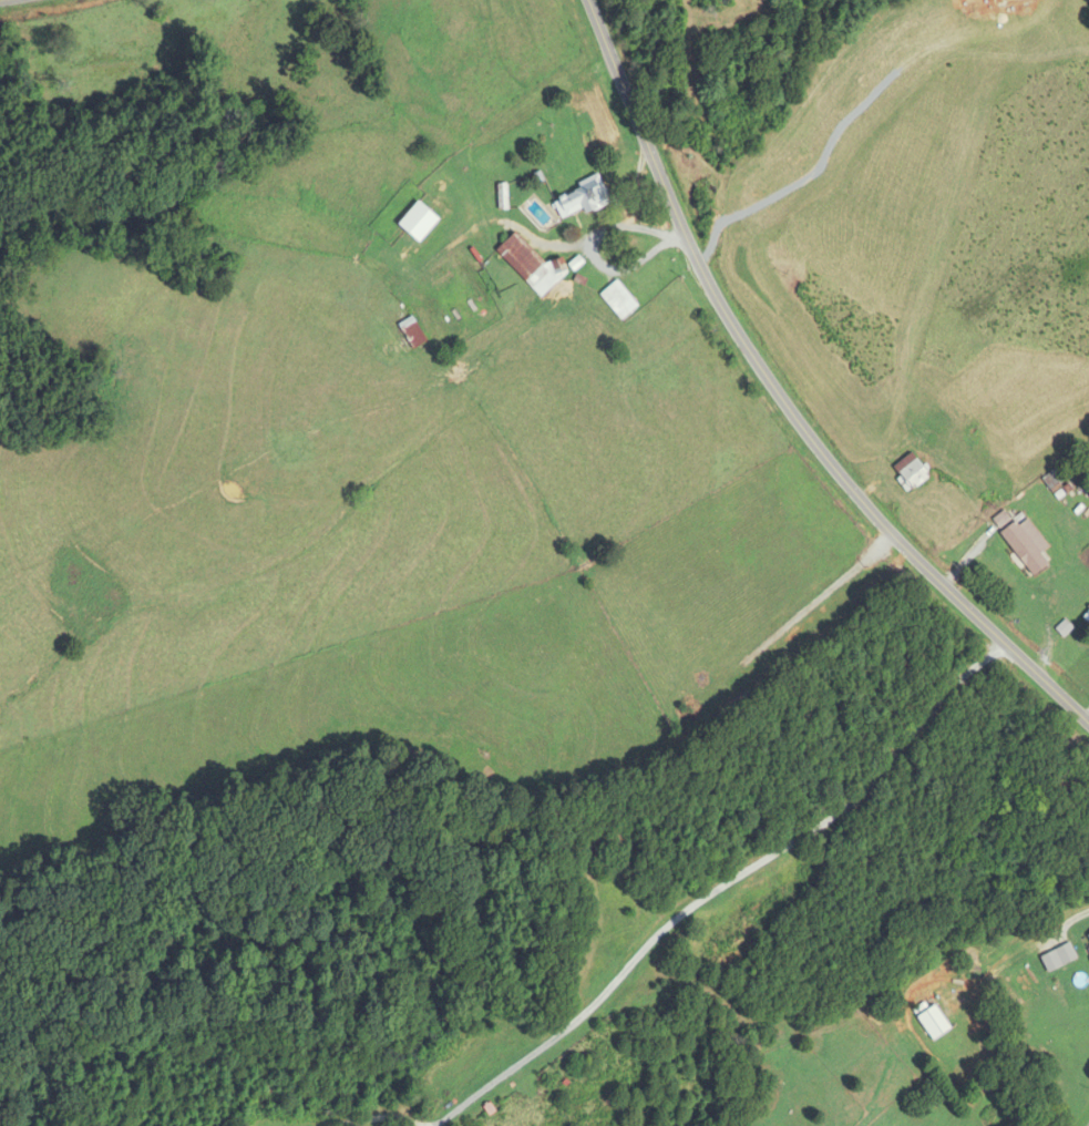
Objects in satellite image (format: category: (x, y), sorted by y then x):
building: (747, 10)
building: (579, 199)
building: (423, 236)
road: (594, 246)
building: (532, 266)
building: (618, 300)
building: (411, 332)
road: (787, 396)
building: (911, 471)
building: (1000, 520)
building: (1023, 549)
building: (1088, 612)
road: (729, 886)
building: (1088, 936)
building: (933, 1023)
building: (734, 1110)

